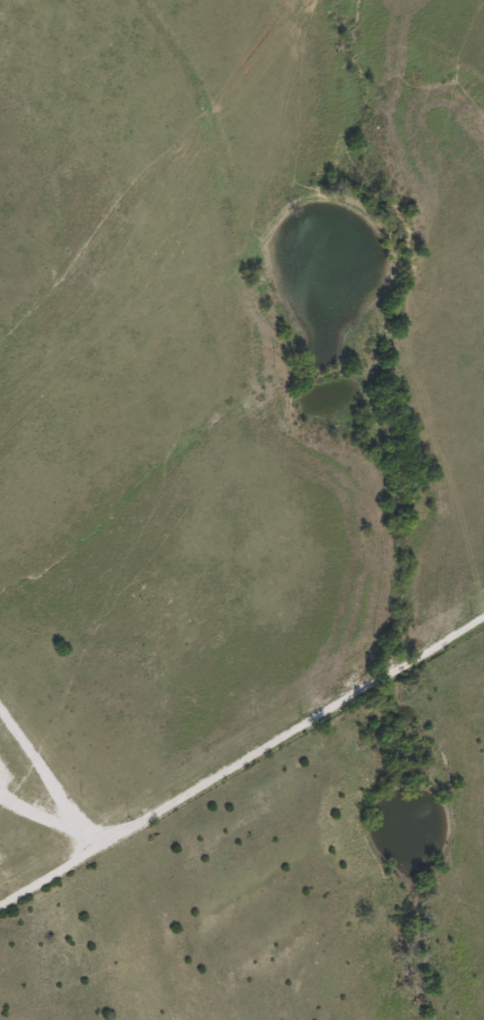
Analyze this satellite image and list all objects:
road: (242, 757)
road: (46, 777)

